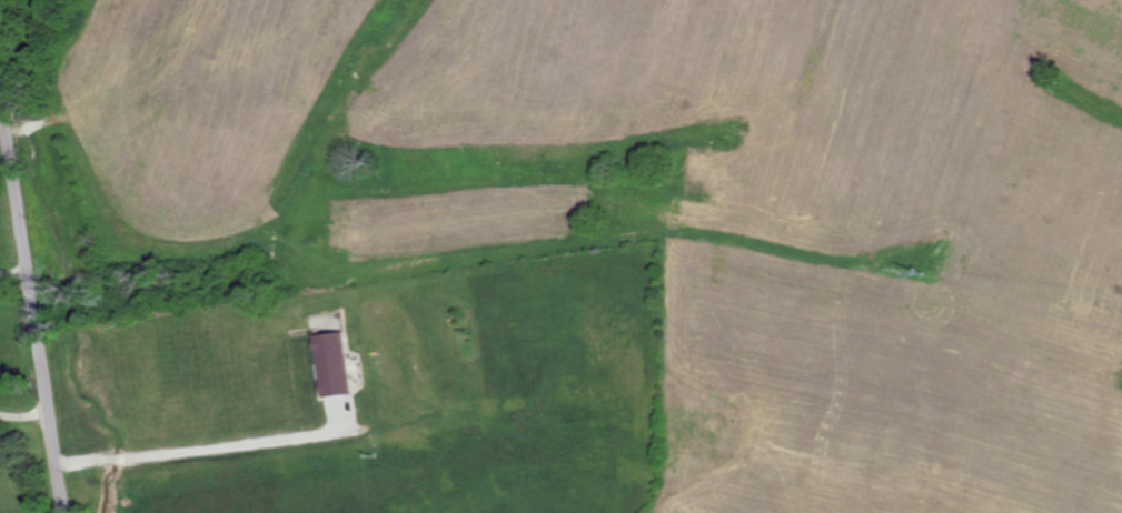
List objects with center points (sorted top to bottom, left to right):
road: (19, 261)
road: (44, 304)
building: (331, 364)
road: (28, 406)
road: (217, 436)

